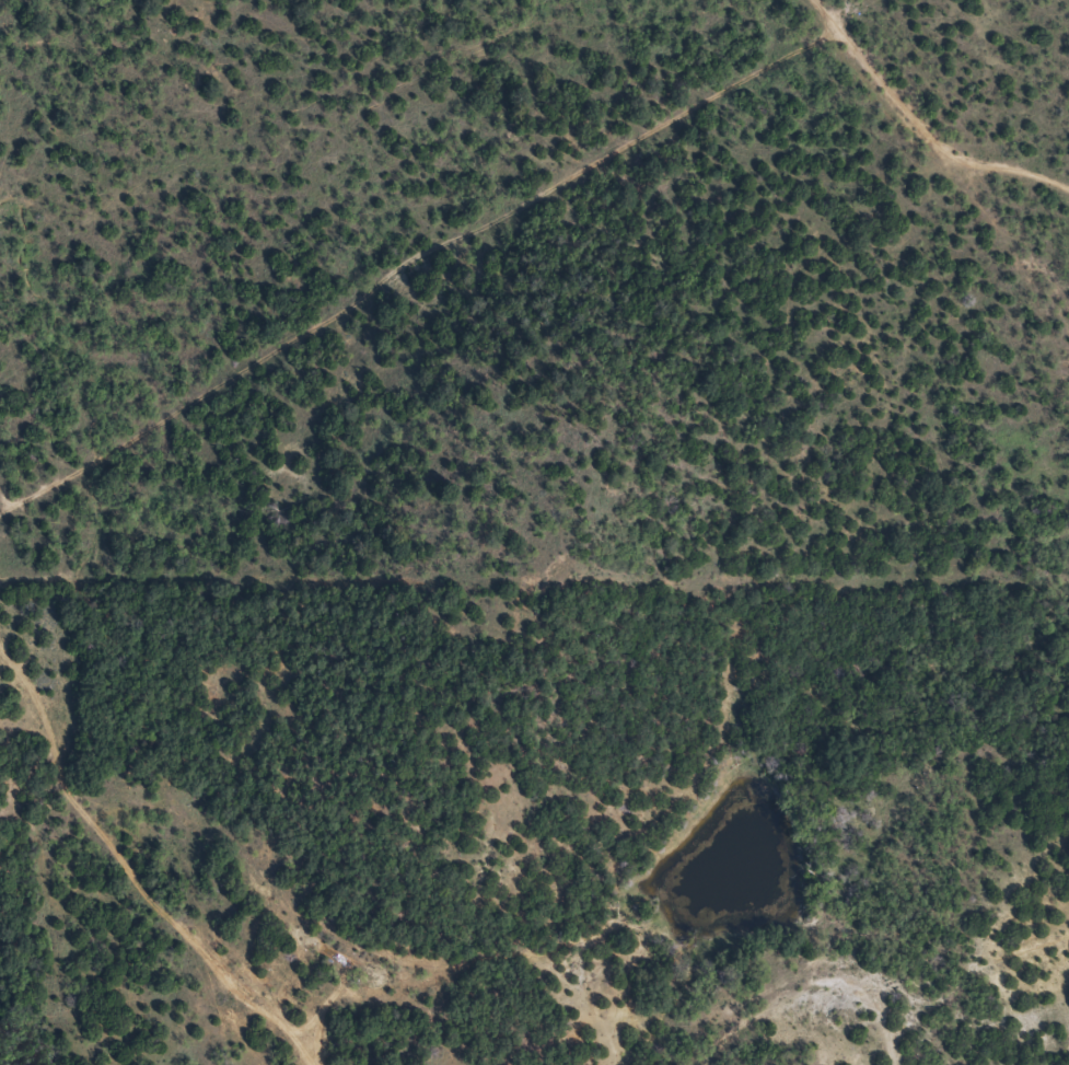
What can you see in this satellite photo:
road: (949, 163)
road: (820, 984)

